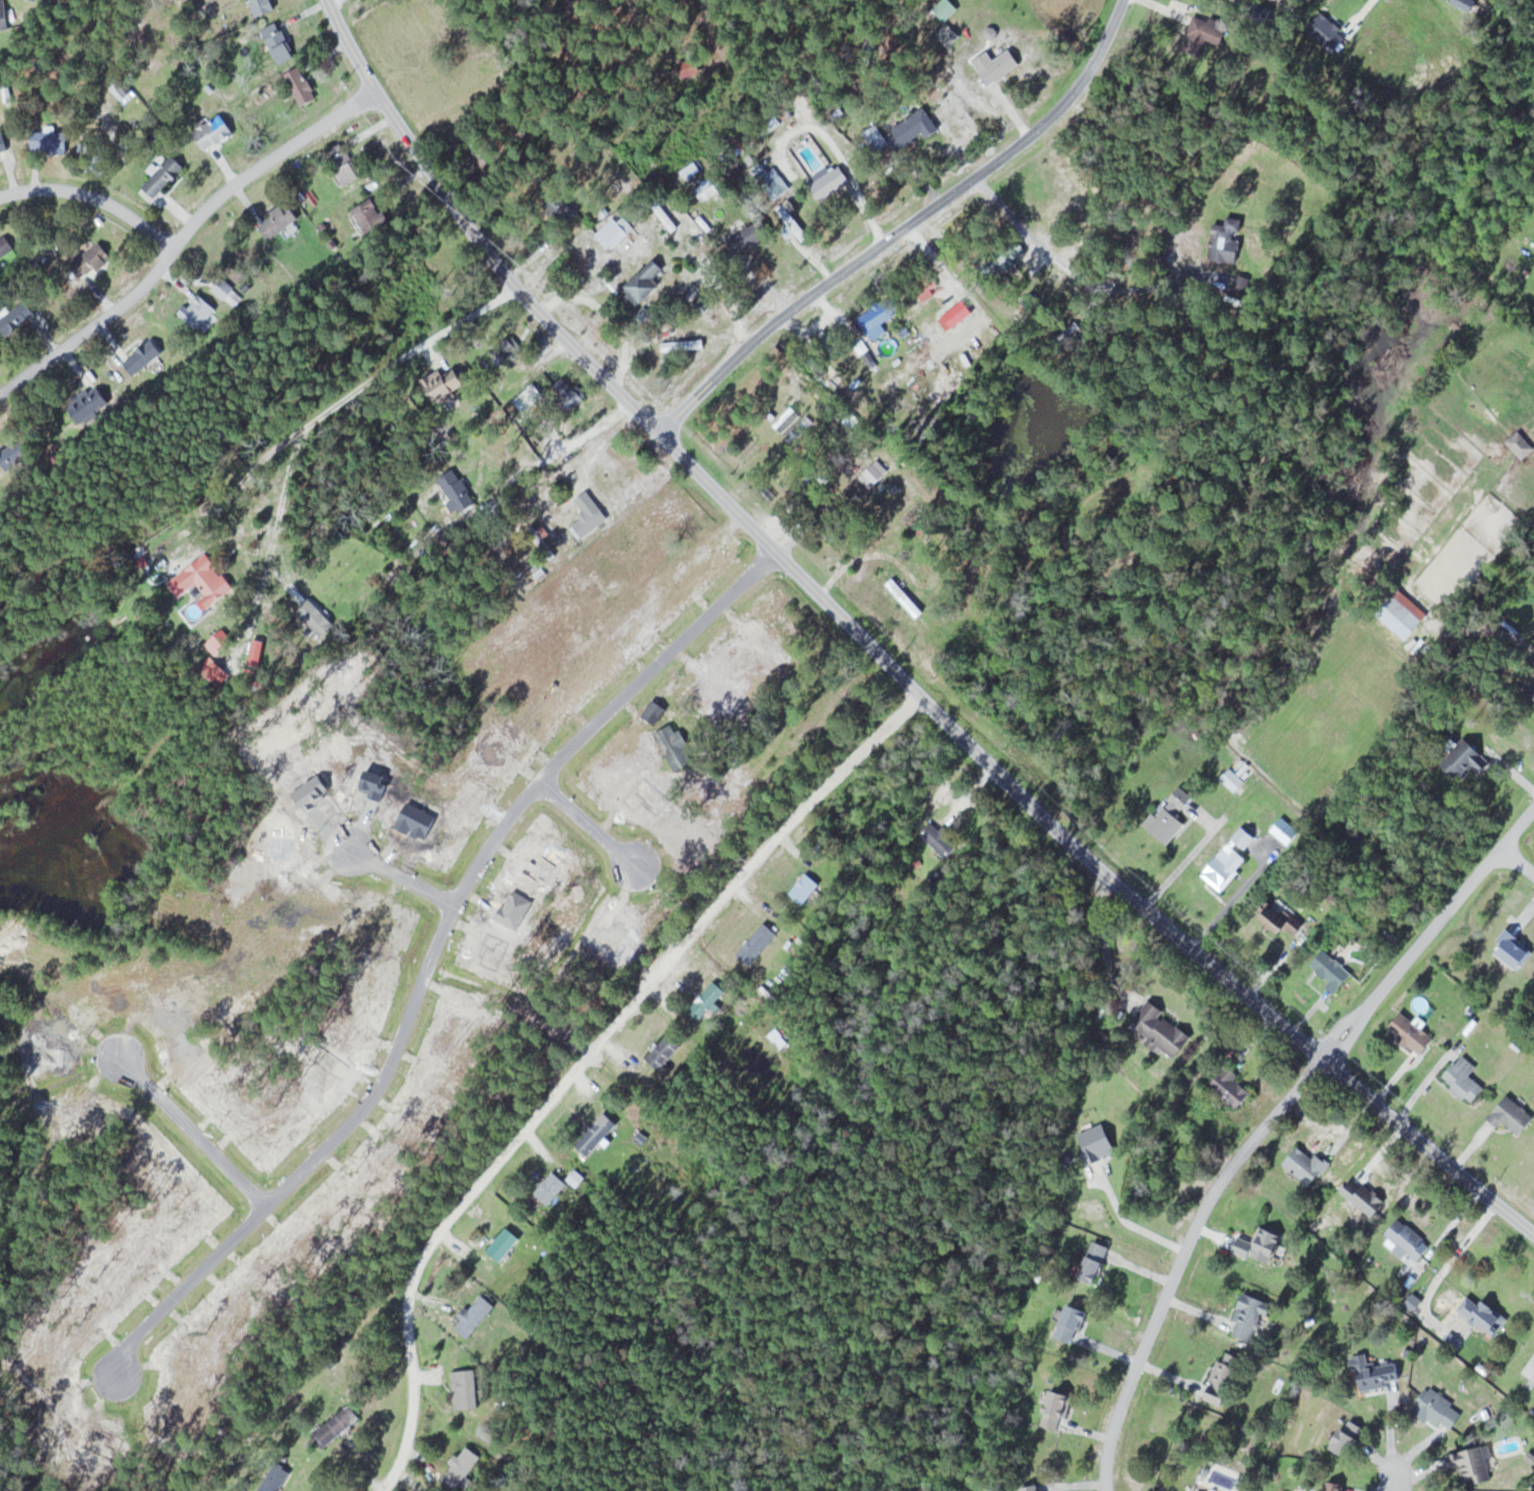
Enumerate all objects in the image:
building: (35, 0)
building: (263, 6)
building: (946, 9)
building: (3, 15)
building: (1205, 33)
building: (279, 43)
building: (998, 65)
building: (690, 67)
building: (302, 86)
building: (123, 89)
building: (914, 128)
building: (214, 131)
building: (50, 139)
building: (3, 143)
building: (482, 153)
building: (344, 163)
building: (164, 175)
building: (829, 180)
building: (707, 188)
road: (94, 195)
building: (560, 208)
building: (371, 214)
building: (666, 217)
building: (278, 219)
building: (795, 224)
road: (906, 229)
building: (615, 231)
road: (183, 236)
building: (751, 236)
building: (1227, 239)
building: (5, 246)
building: (1010, 255)
building: (91, 260)
road: (1065, 263)
building: (644, 282)
building: (228, 292)
building: (199, 311)
building: (879, 317)
building: (17, 318)
building: (683, 345)
building: (143, 356)
building: (444, 384)
road: (349, 393)
building: (89, 404)
building: (787, 419)
building: (799, 428)
building: (17, 452)
building: (686, 512)
building: (589, 513)
building: (209, 578)
building: (905, 597)
building: (1404, 614)
building: (628, 617)
building: (221, 639)
road: (884, 659)
building: (674, 747)
building: (1467, 759)
building: (1233, 780)
building: (622, 788)
building: (1169, 817)
building: (1285, 834)
building: (941, 839)
road: (1186, 859)
building: (1230, 859)
road: (1517, 862)
building: (806, 888)
road: (1237, 892)
building: (1279, 917)
road: (1430, 930)
building: (758, 943)
building: (1515, 949)
building: (1332, 969)
building: (708, 1000)
building: (1162, 1030)
building: (1412, 1033)
building: (665, 1051)
road: (591, 1066)
building: (1465, 1079)
building: (1232, 1088)
building: (597, 1133)
building: (1306, 1165)
building: (577, 1178)
building: (552, 1188)
building: (1410, 1240)
building: (504, 1244)
building: (1261, 1246)
road: (1183, 1255)
building: (1095, 1263)
building: (476, 1316)
building: (1485, 1316)
building: (1251, 1317)
building: (1072, 1323)
building: (1380, 1376)
building: (1224, 1379)
building: (468, 1389)
building: (1056, 1409)
building: (1440, 1409)
building: (336, 1426)
building: (1350, 1438)
building: (1473, 1465)
building: (463, 1469)
road: (1399, 1476)
building: (276, 1479)
building: (1335, 1486)
building: (1033, 1488)

